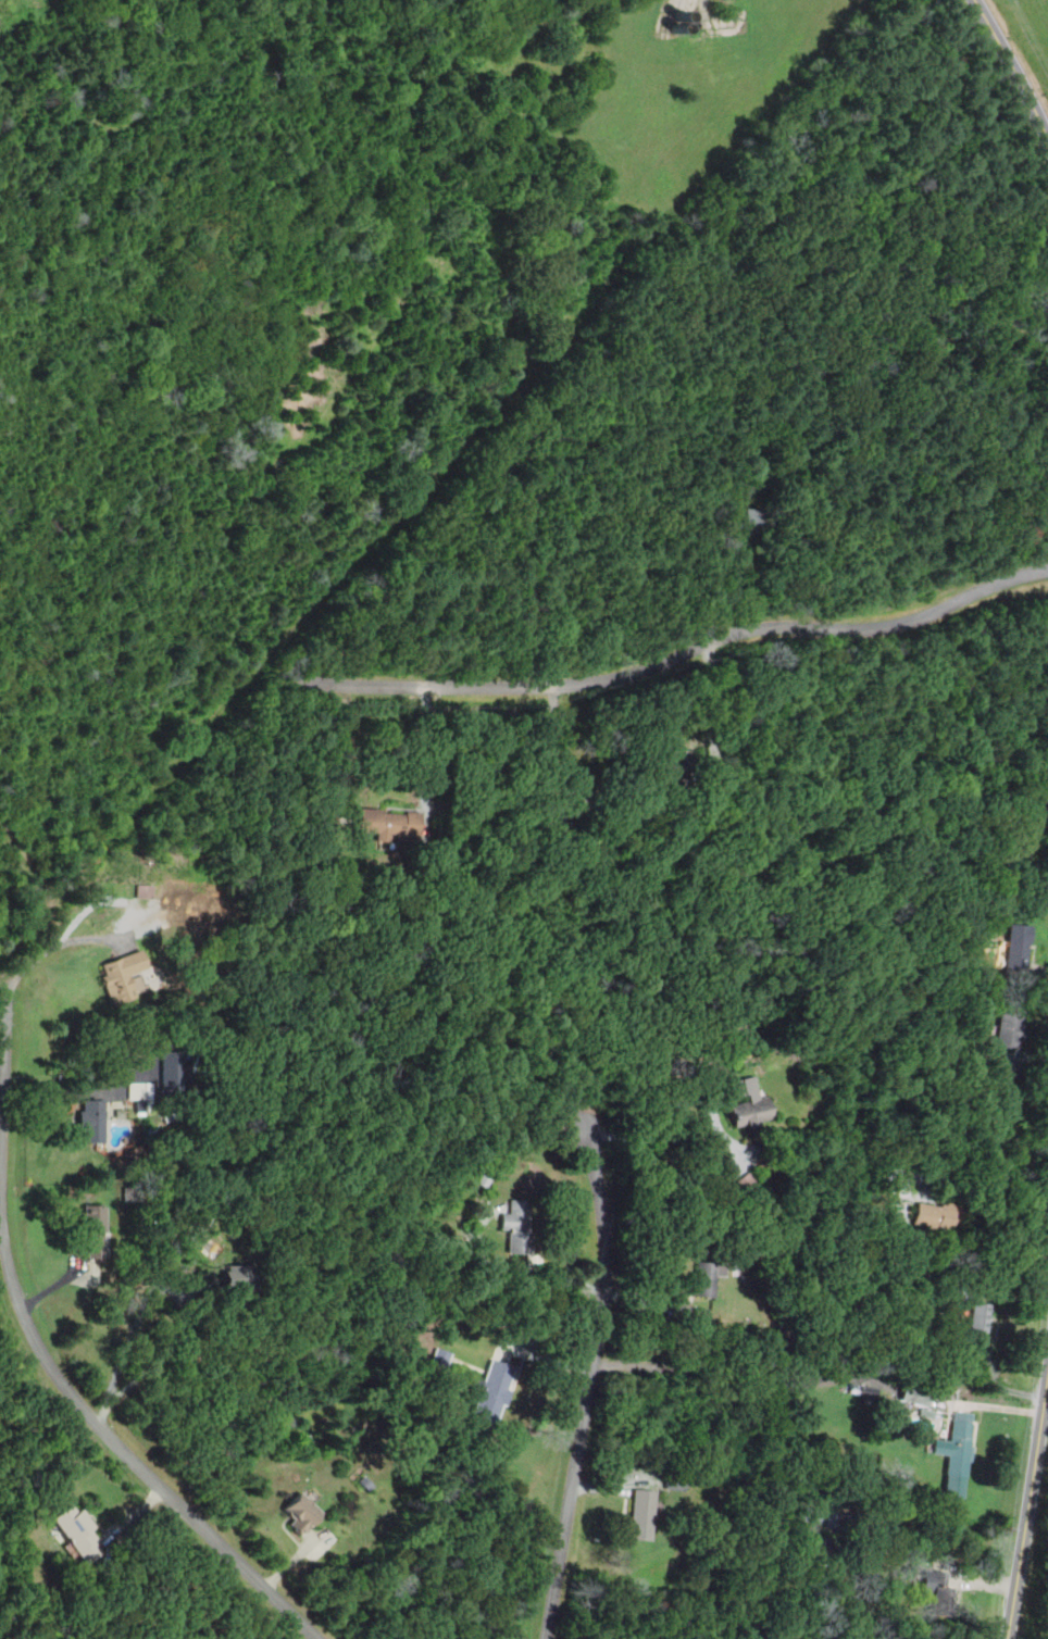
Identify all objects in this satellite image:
road: (1014, 67)
building: (748, 518)
road: (686, 651)
road: (726, 717)
road: (551, 739)
road: (429, 747)
building: (679, 766)
building: (571, 804)
building: (388, 826)
building: (145, 890)
road: (57, 942)
building: (1016, 948)
building: (121, 977)
building: (1010, 1028)
road: (2, 1055)
building: (172, 1071)
building: (139, 1094)
building: (749, 1103)
building: (92, 1122)
road: (736, 1168)
road: (994, 1183)
building: (934, 1217)
building: (517, 1226)
building: (93, 1233)
road: (507, 1275)
building: (706, 1277)
building: (240, 1278)
building: (978, 1317)
road: (152, 1368)
road: (588, 1385)
building: (492, 1392)
building: (924, 1419)
building: (959, 1449)
road: (125, 1455)
building: (676, 1482)
road: (1027, 1503)
building: (302, 1514)
building: (642, 1515)
building: (824, 1518)
building: (79, 1534)
building: (820, 1552)
building: (938, 1594)

